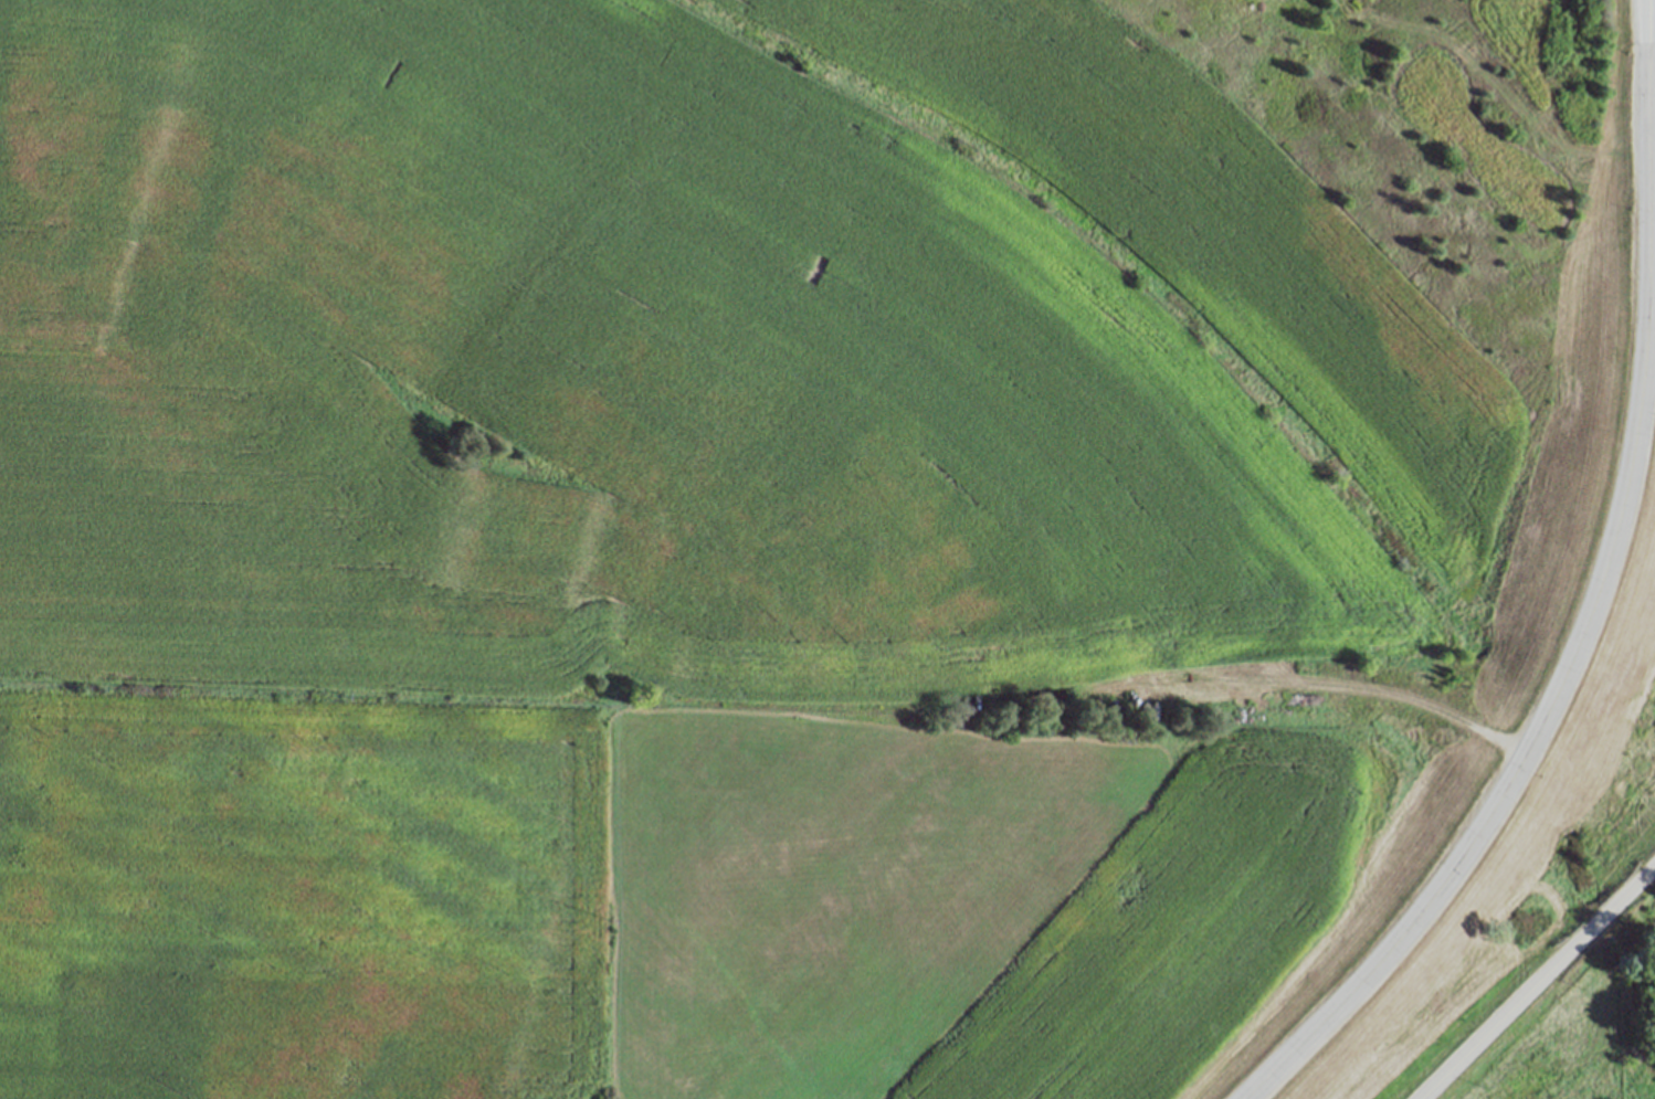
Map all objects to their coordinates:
road: (1584, 602)
road: (1341, 684)
road: (1537, 982)

